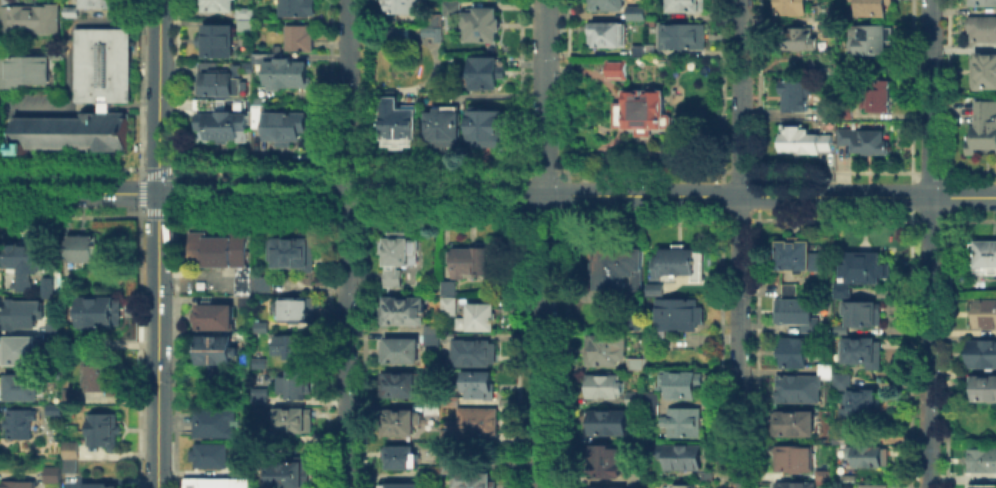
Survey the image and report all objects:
building: (10, 1)
building: (982, 2)
building: (97, 3)
building: (217, 4)
building: (606, 4)
building: (400, 5)
building: (685, 5)
building: (295, 7)
building: (794, 8)
building: (875, 8)
building: (70, 10)
building: (244, 11)
building: (455, 11)
building: (635, 11)
building: (30, 16)
building: (434, 18)
building: (827, 19)
road: (68, 24)
building: (243, 24)
building: (486, 26)
building: (981, 27)
building: (399, 31)
building: (433, 31)
building: (606, 32)
building: (682, 35)
building: (297, 36)
building: (215, 38)
building: (872, 39)
building: (802, 41)
building: (275, 46)
building: (638, 49)
building: (56, 53)
building: (616, 68)
building: (23, 69)
building: (282, 69)
building: (983, 69)
building: (484, 74)
building: (217, 78)
building: (798, 97)
building: (879, 97)
building: (87, 98)
building: (259, 99)
parking lot: (28, 102)
building: (205, 103)
road: (28, 107)
building: (641, 110)
building: (828, 112)
building: (256, 115)
building: (398, 122)
building: (222, 123)
building: (284, 125)
building: (443, 125)
building: (486, 125)
building: (983, 125)
building: (806, 142)
building: (866, 142)
road: (78, 193)
traffic signals: (158, 194)
road: (577, 195)
road: (158, 243)
road: (739, 243)
road: (347, 244)
road: (544, 244)
road: (929, 244)
building: (82, 248)
building: (217, 248)
building: (292, 250)
building: (402, 253)
building: (983, 254)
building: (796, 255)
building: (678, 261)
building: (24, 263)
building: (475, 263)
building: (864, 265)
building: (617, 268)
road: (197, 272)
parking lot: (227, 279)
building: (243, 279)
building: (394, 280)
building: (262, 282)
building: (199, 283)
building: (70, 284)
building: (47, 286)
building: (448, 286)
building: (654, 288)
building: (788, 288)
building: (841, 289)
building: (244, 300)
building: (295, 307)
building: (451, 309)
building: (98, 310)
building: (795, 311)
building: (861, 311)
building: (20, 312)
building: (982, 312)
building: (404, 313)
building: (677, 313)
building: (213, 314)
building: (484, 318)
building: (637, 319)
building: (52, 324)
building: (260, 325)
building: (840, 327)
building: (52, 336)
building: (70, 336)
building: (434, 338)
building: (286, 344)
building: (609, 348)
building: (20, 349)
building: (216, 350)
building: (794, 350)
building: (862, 350)
building: (981, 352)
building: (401, 353)
building: (474, 355)
building: (259, 361)
building: (825, 365)
building: (99, 372)
building: (826, 372)
building: (841, 379)
building: (681, 382)
building: (297, 383)
building: (604, 384)
building: (21, 385)
building: (482, 387)
building: (799, 387)
building: (981, 387)
building: (404, 389)
building: (260, 394)
building: (634, 396)
building: (70, 397)
building: (651, 402)
building: (859, 405)
building: (53, 408)
building: (436, 408)
building: (293, 419)
building: (608, 420)
building: (683, 420)
building: (214, 421)
building: (19, 422)
building: (794, 422)
building: (402, 425)
building: (477, 425)
building: (102, 428)
building: (259, 436)
building: (638, 437)
building: (840, 437)
building: (69, 448)
building: (209, 453)
building: (867, 454)
building: (681, 455)
building: (794, 456)
building: (981, 458)
building: (404, 459)
building: (605, 459)
building: (449, 463)
building: (68, 464)
building: (239, 468)
building: (50, 473)
building: (285, 473)
building: (704, 473)
building: (824, 473)
road: (110, 476)
building: (848, 476)
building: (432, 477)
parking lot: (70, 479)
building: (473, 479)
building: (216, 481)
building: (17, 483)
building: (96, 484)
building: (796, 484)
building: (873, 485)
building: (981, 485)
building: (406, 486)
building: (684, 486)
building: (257, 487)
building: (612, 487)

